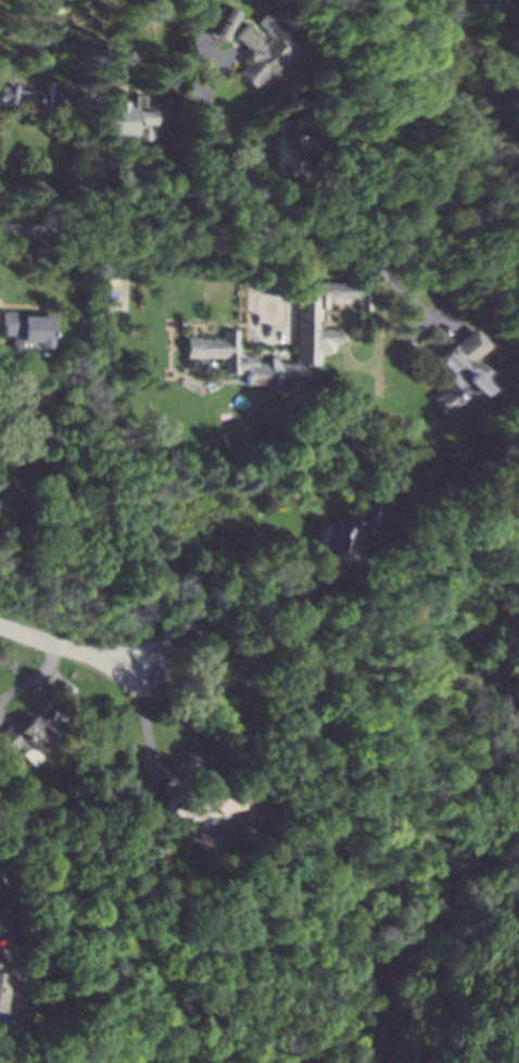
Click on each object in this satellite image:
building: (220, 22)
building: (263, 46)
building: (34, 97)
road: (206, 104)
building: (124, 118)
building: (288, 144)
road: (136, 230)
road: (367, 246)
road: (270, 282)
building: (25, 330)
building: (210, 340)
building: (454, 370)
building: (344, 530)
road: (228, 622)
road: (73, 649)
road: (36, 680)
building: (22, 737)
road: (149, 747)
road: (185, 775)
building: (205, 805)
road: (152, 814)
building: (147, 844)
road: (1, 938)
building: (1, 965)
building: (3, 992)

